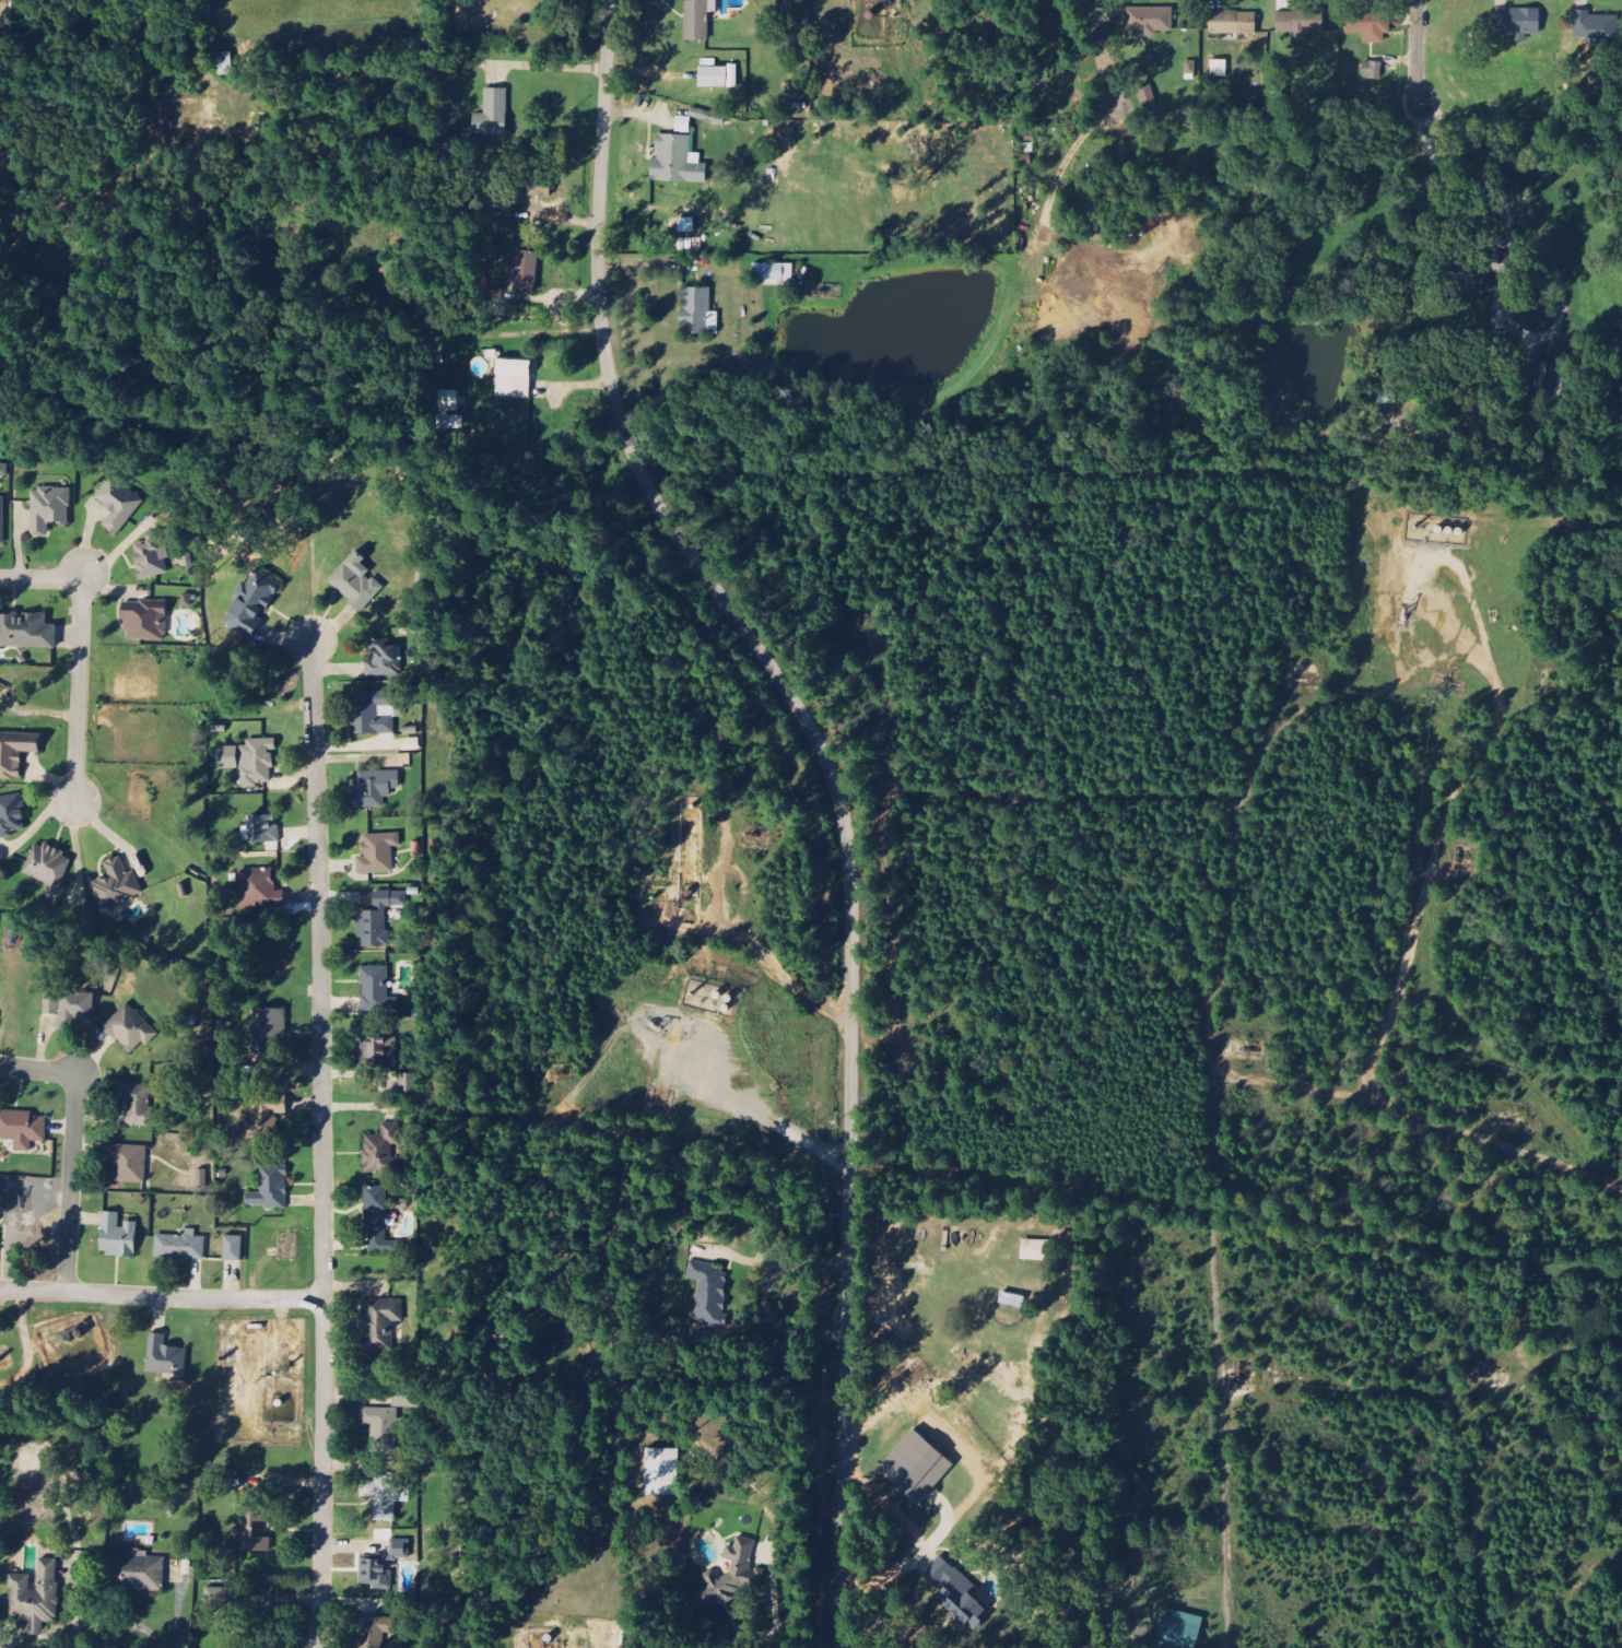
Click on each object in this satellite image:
building: (700, 19)
building: (1150, 21)
building: (1234, 23)
building: (1302, 23)
building: (1519, 24)
building: (1371, 26)
building: (1597, 27)
road: (1425, 50)
road: (1110, 60)
building: (225, 64)
building: (1220, 69)
building: (1374, 71)
building: (718, 75)
building: (493, 114)
building: (708, 117)
building: (684, 126)
building: (677, 162)
building: (540, 192)
building: (687, 226)
building: (527, 272)
building: (774, 273)
building: (1477, 273)
building: (697, 311)
building: (514, 379)
building: (1387, 388)
building: (447, 401)
building: (3, 469)
building: (118, 504)
building: (49, 507)
building: (2, 520)
building: (151, 555)
building: (355, 581)
building: (252, 602)
building: (145, 621)
building: (26, 632)
road: (80, 648)
building: (384, 658)
building: (373, 713)
building: (410, 744)
building: (16, 751)
building: (250, 761)
building: (374, 788)
road: (838, 792)
building: (11, 814)
building: (263, 829)
building: (378, 852)
building: (48, 869)
building: (117, 885)
building: (259, 888)
building: (378, 919)
building: (376, 990)
building: (70, 1003)
building: (131, 1028)
building: (268, 1031)
building: (378, 1051)
building: (408, 1084)
building: (139, 1105)
building: (265, 1120)
building: (22, 1128)
road: (72, 1144)
road: (322, 1144)
building: (381, 1147)
building: (129, 1162)
building: (271, 1189)
building: (378, 1219)
building: (118, 1235)
building: (181, 1246)
building: (234, 1248)
building: (1034, 1250)
building: (708, 1292)
road: (162, 1297)
building: (381, 1323)
building: (165, 1355)
building: (380, 1427)
building: (918, 1467)
building: (662, 1472)
building: (384, 1496)
building: (252, 1527)
building: (399, 1549)
building: (139, 1572)
building: (375, 1574)
building: (730, 1578)
building: (957, 1593)
building: (36, 1598)
building: (219, 1598)
building: (372, 1631)

